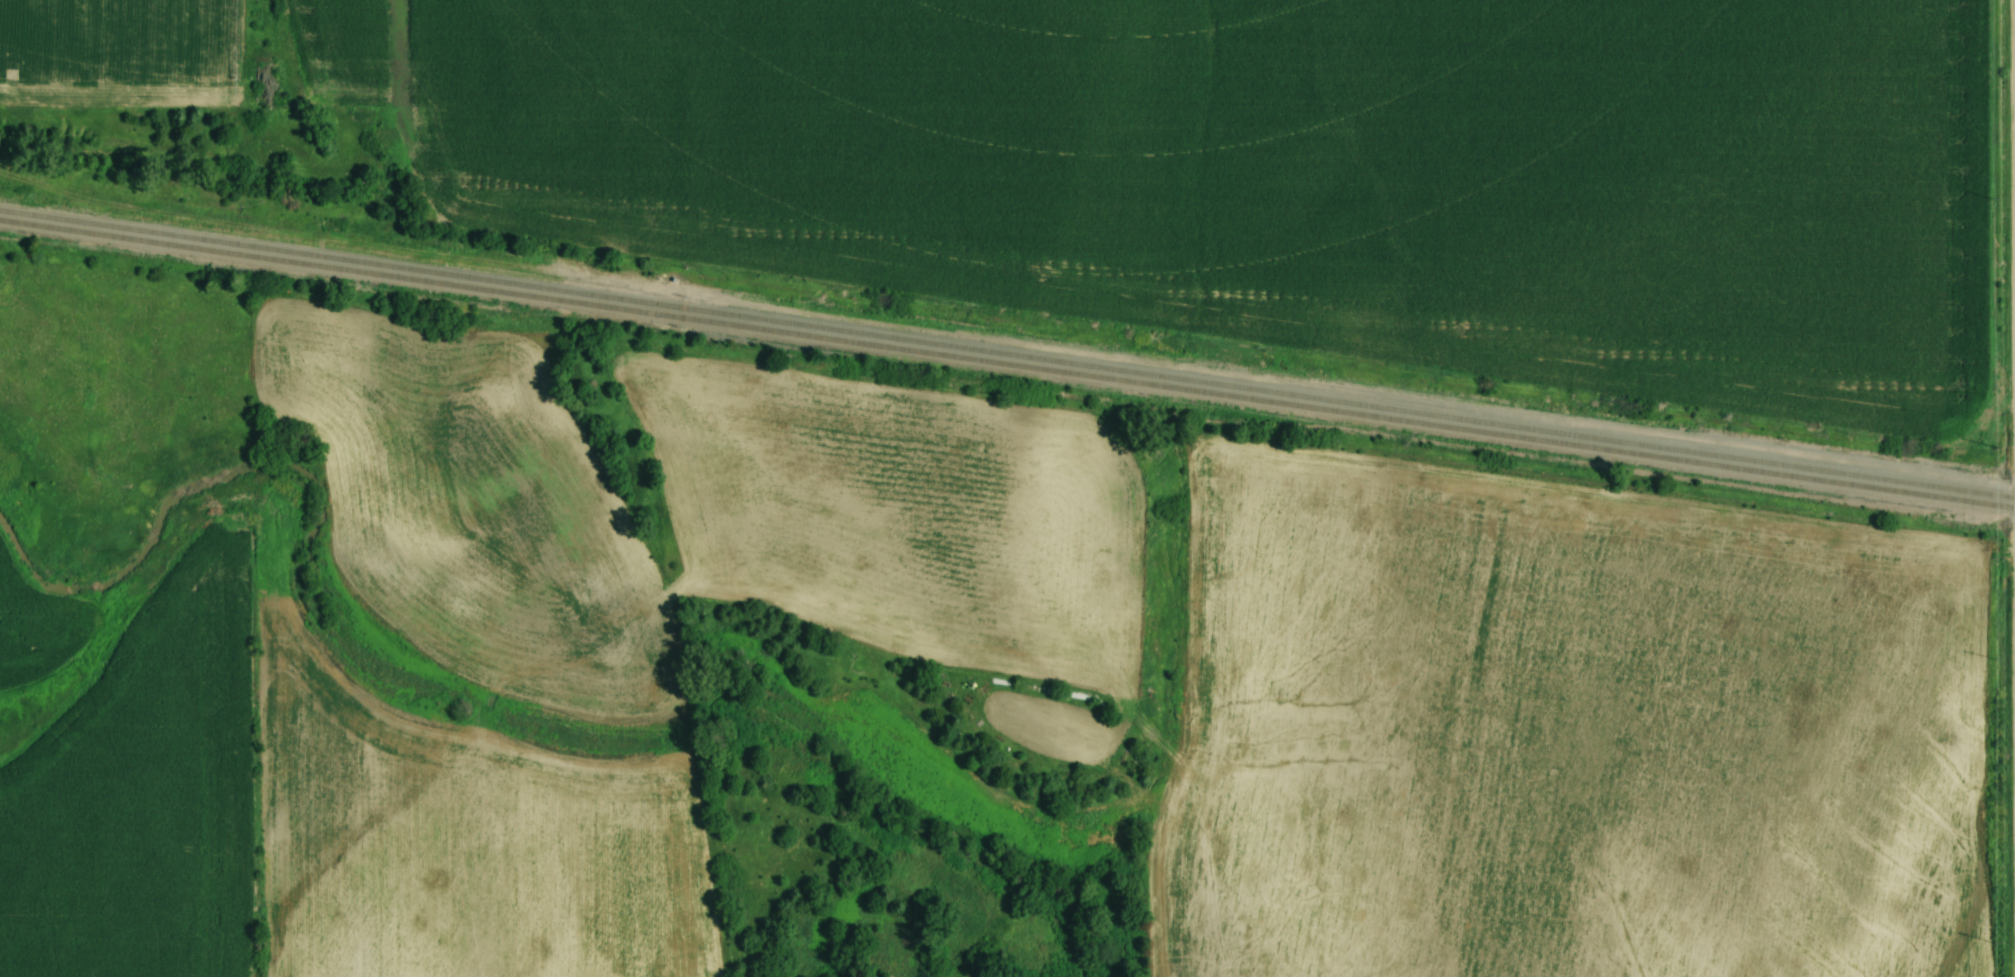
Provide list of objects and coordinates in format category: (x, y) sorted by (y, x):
railway: (1007, 346)
railway: (1007, 358)

